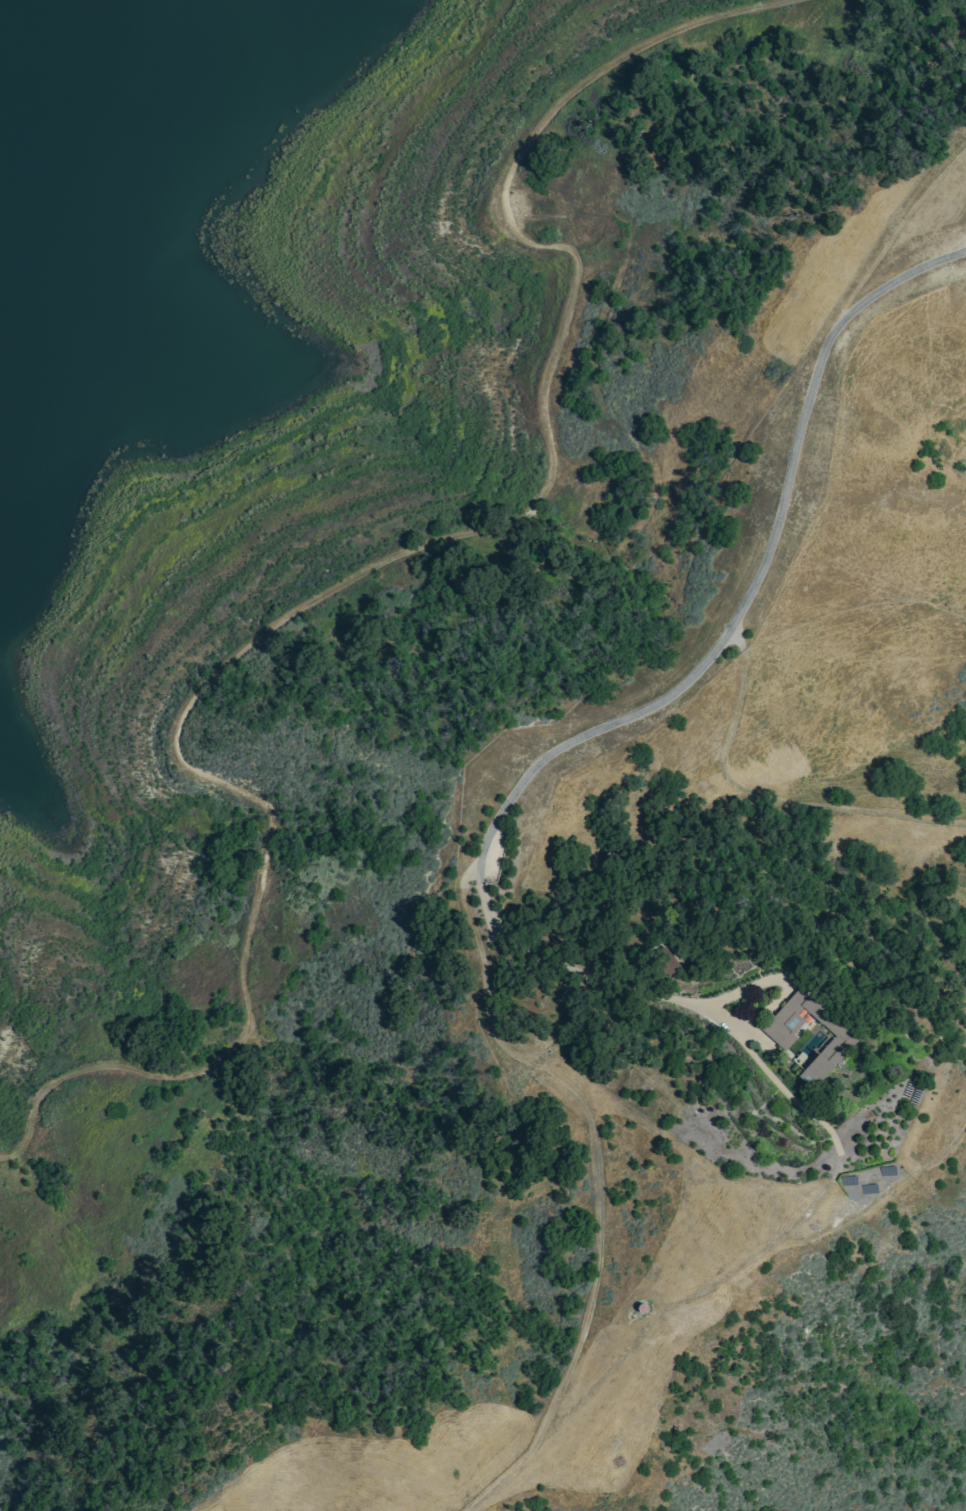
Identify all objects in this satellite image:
road: (359, 573)
road: (522, 944)
building: (807, 1035)

